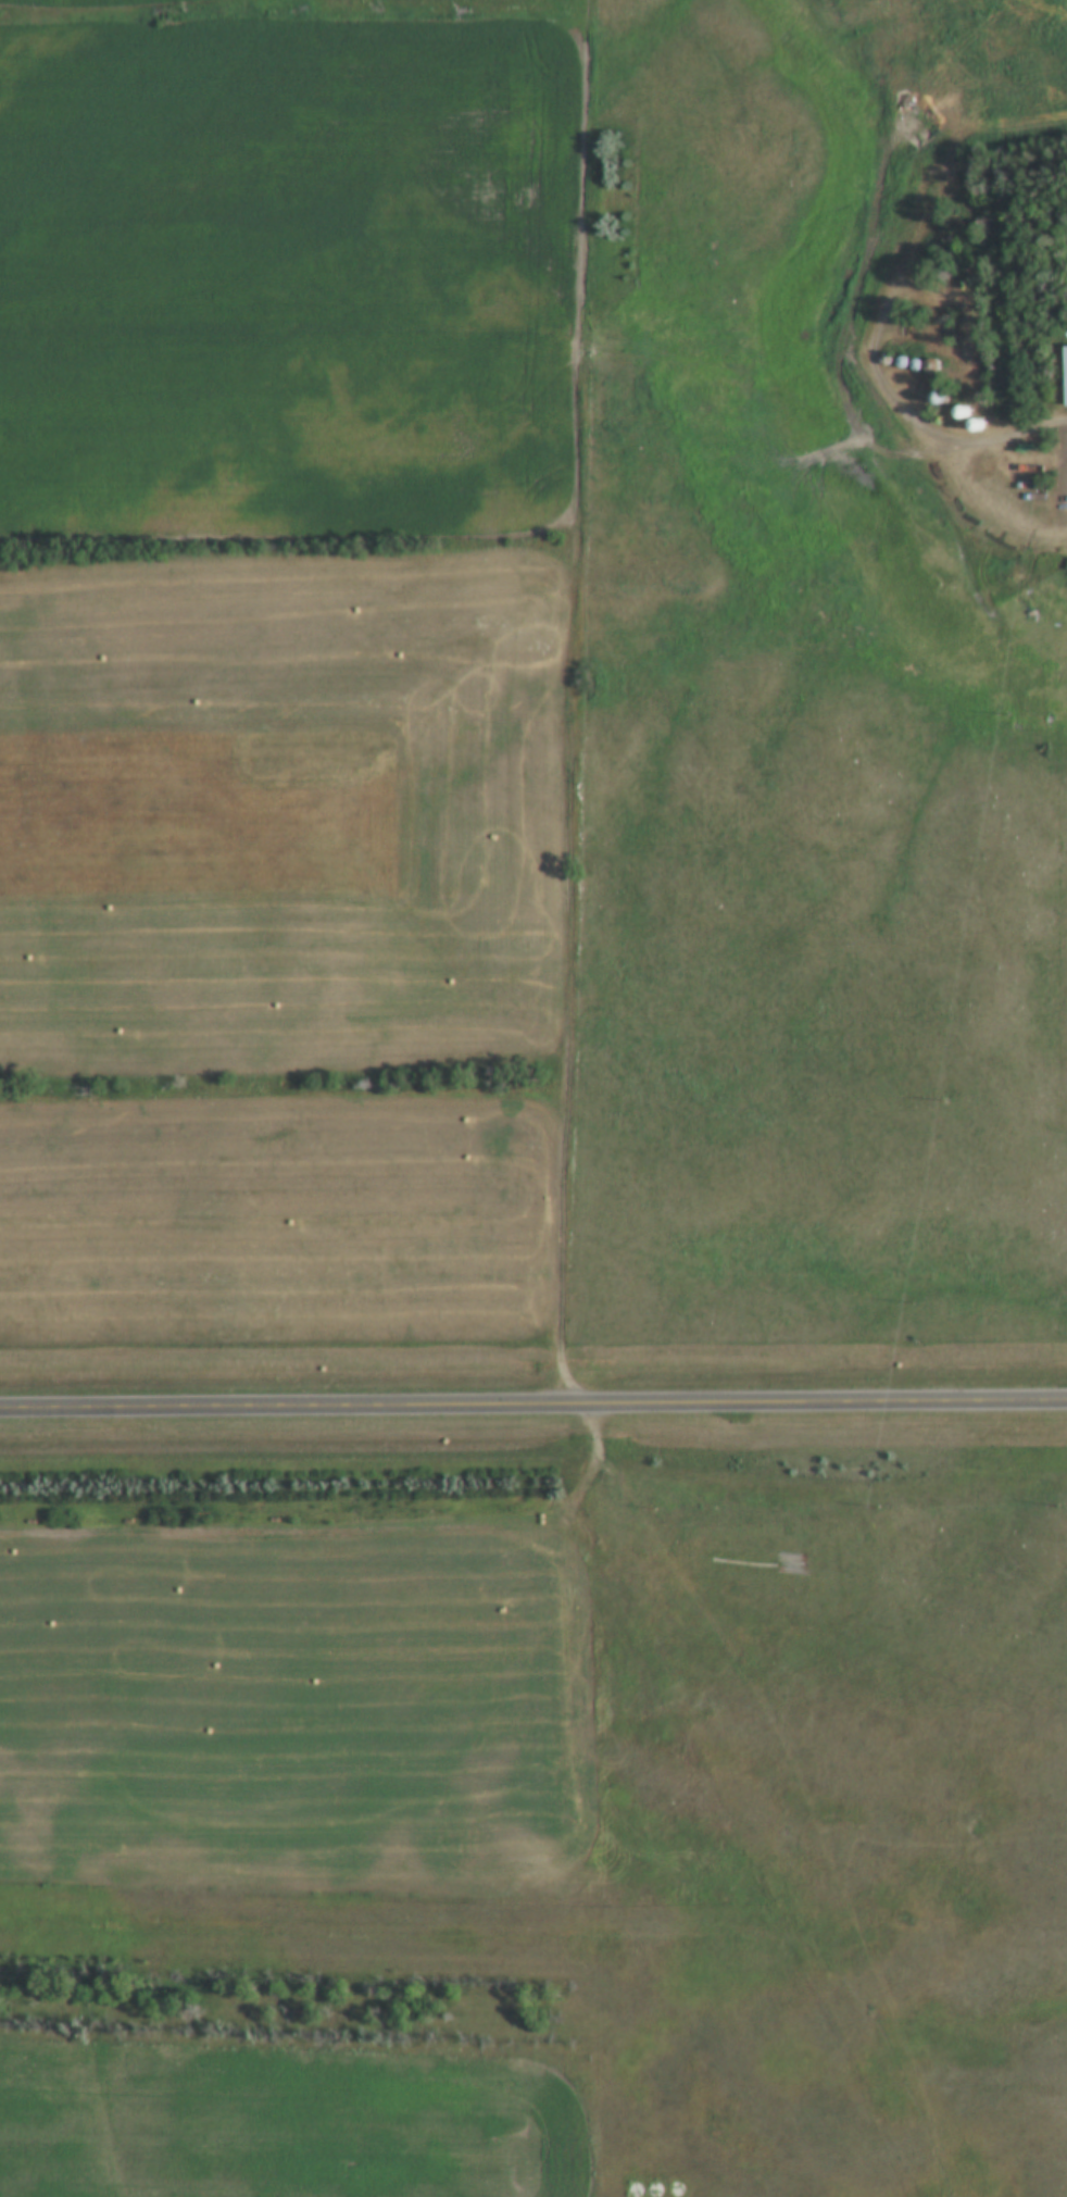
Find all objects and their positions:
building: (931, 366)
road: (576, 699)
road: (532, 1399)

